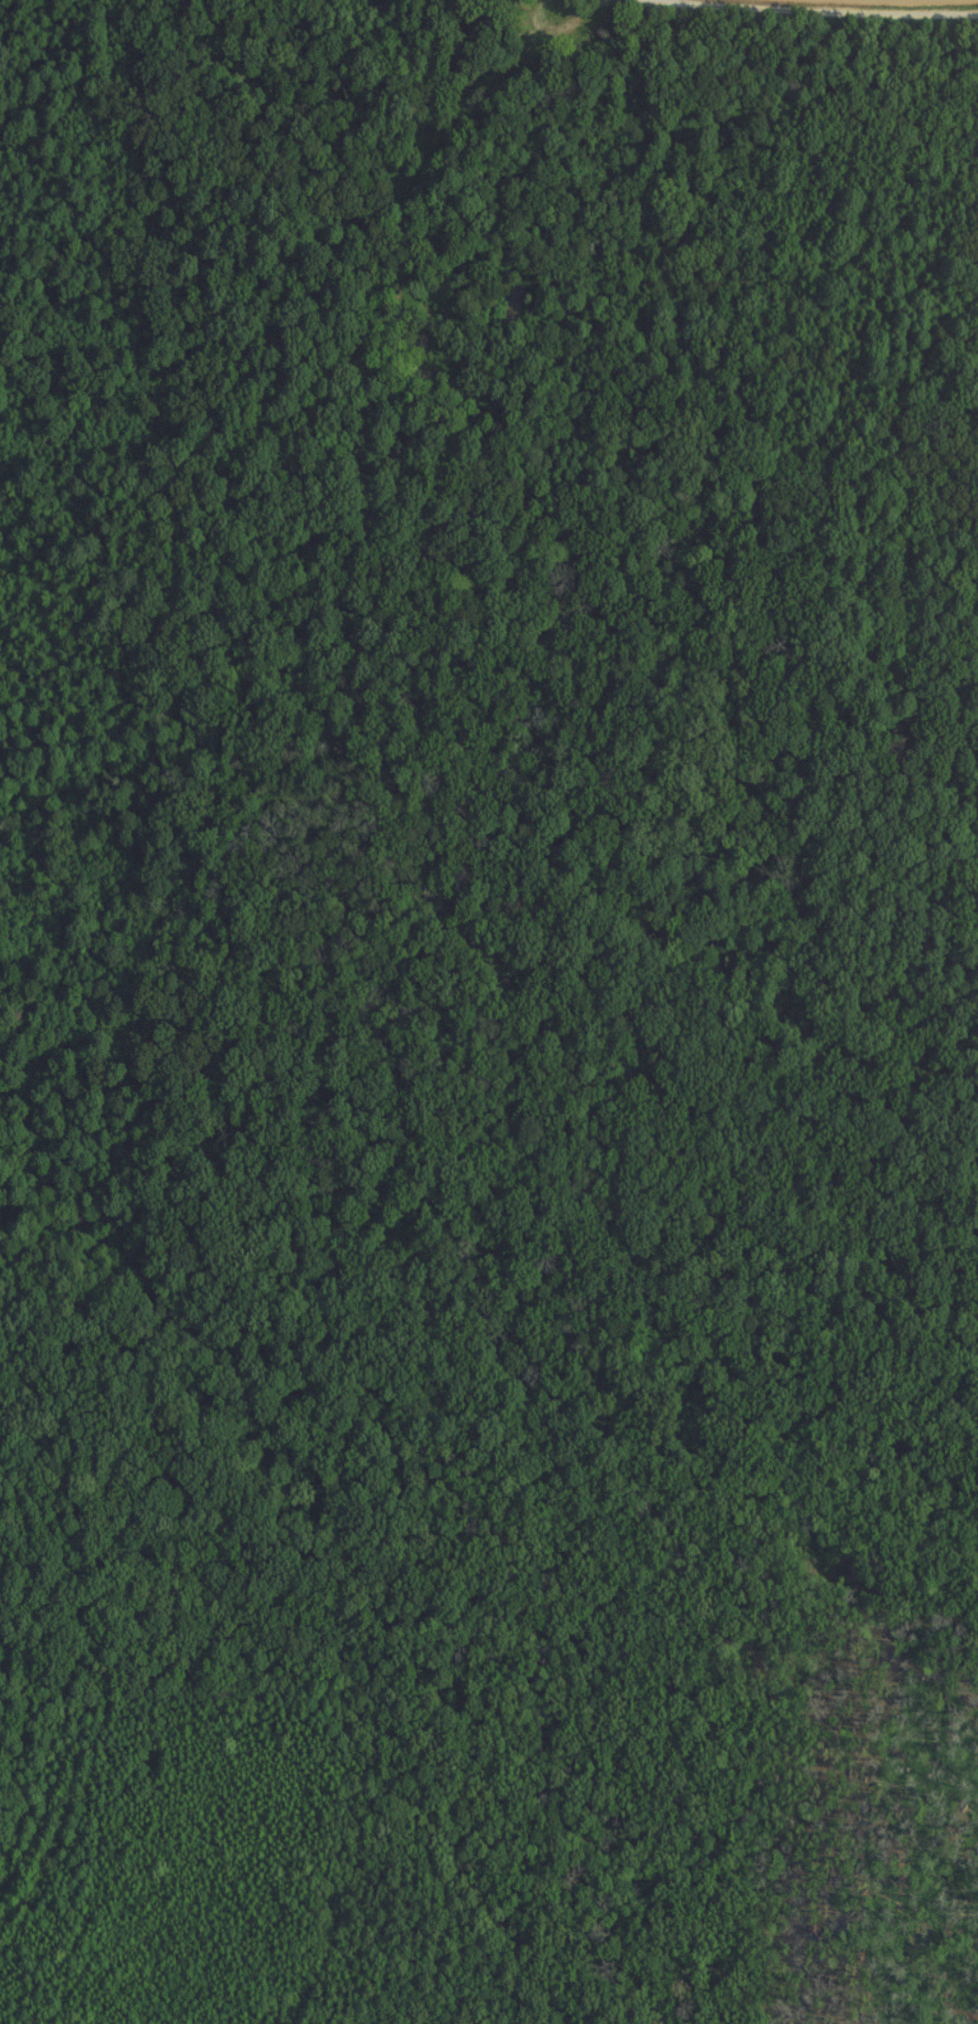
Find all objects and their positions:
road: (811, 8)

